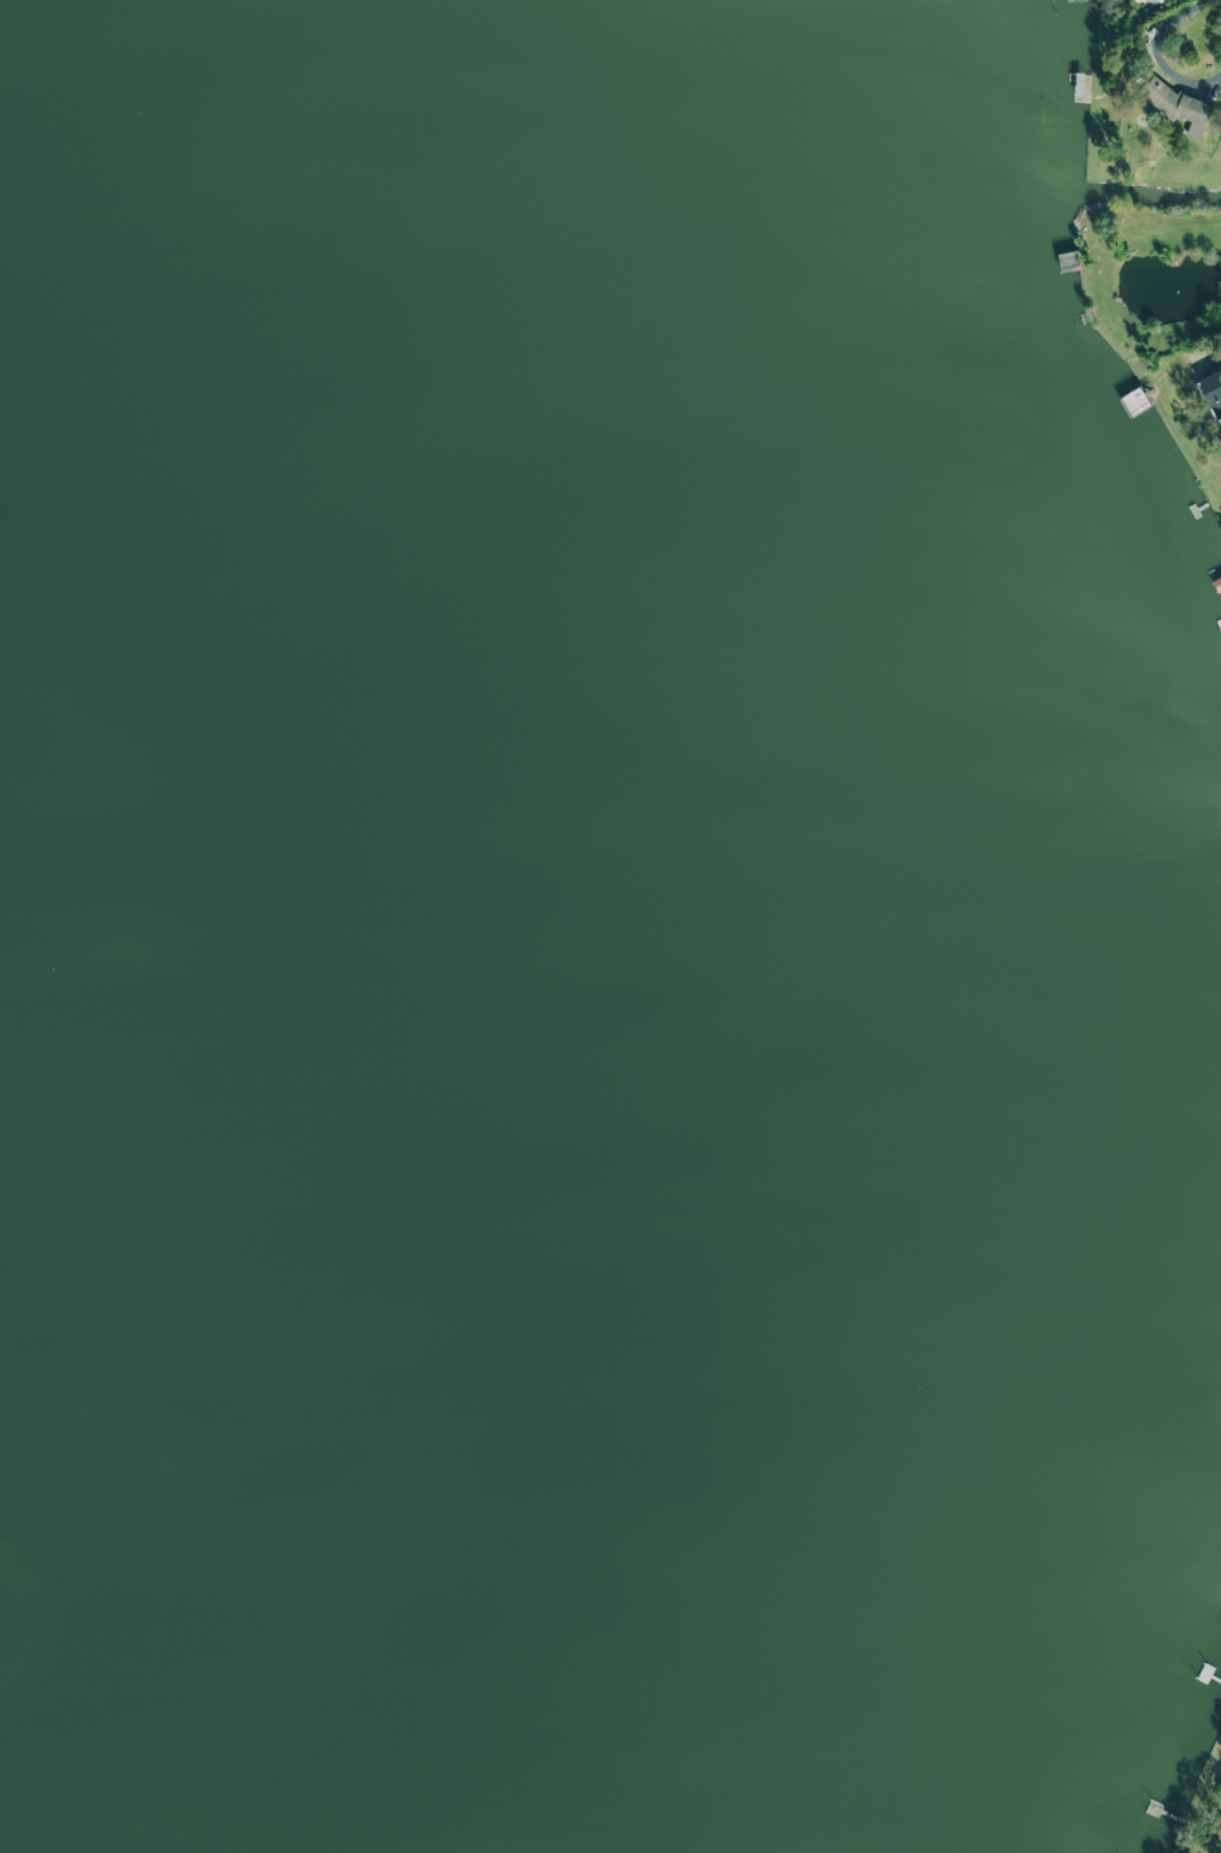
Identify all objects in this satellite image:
road: (1157, 50)
building: (1179, 106)
road: (1220, 352)

